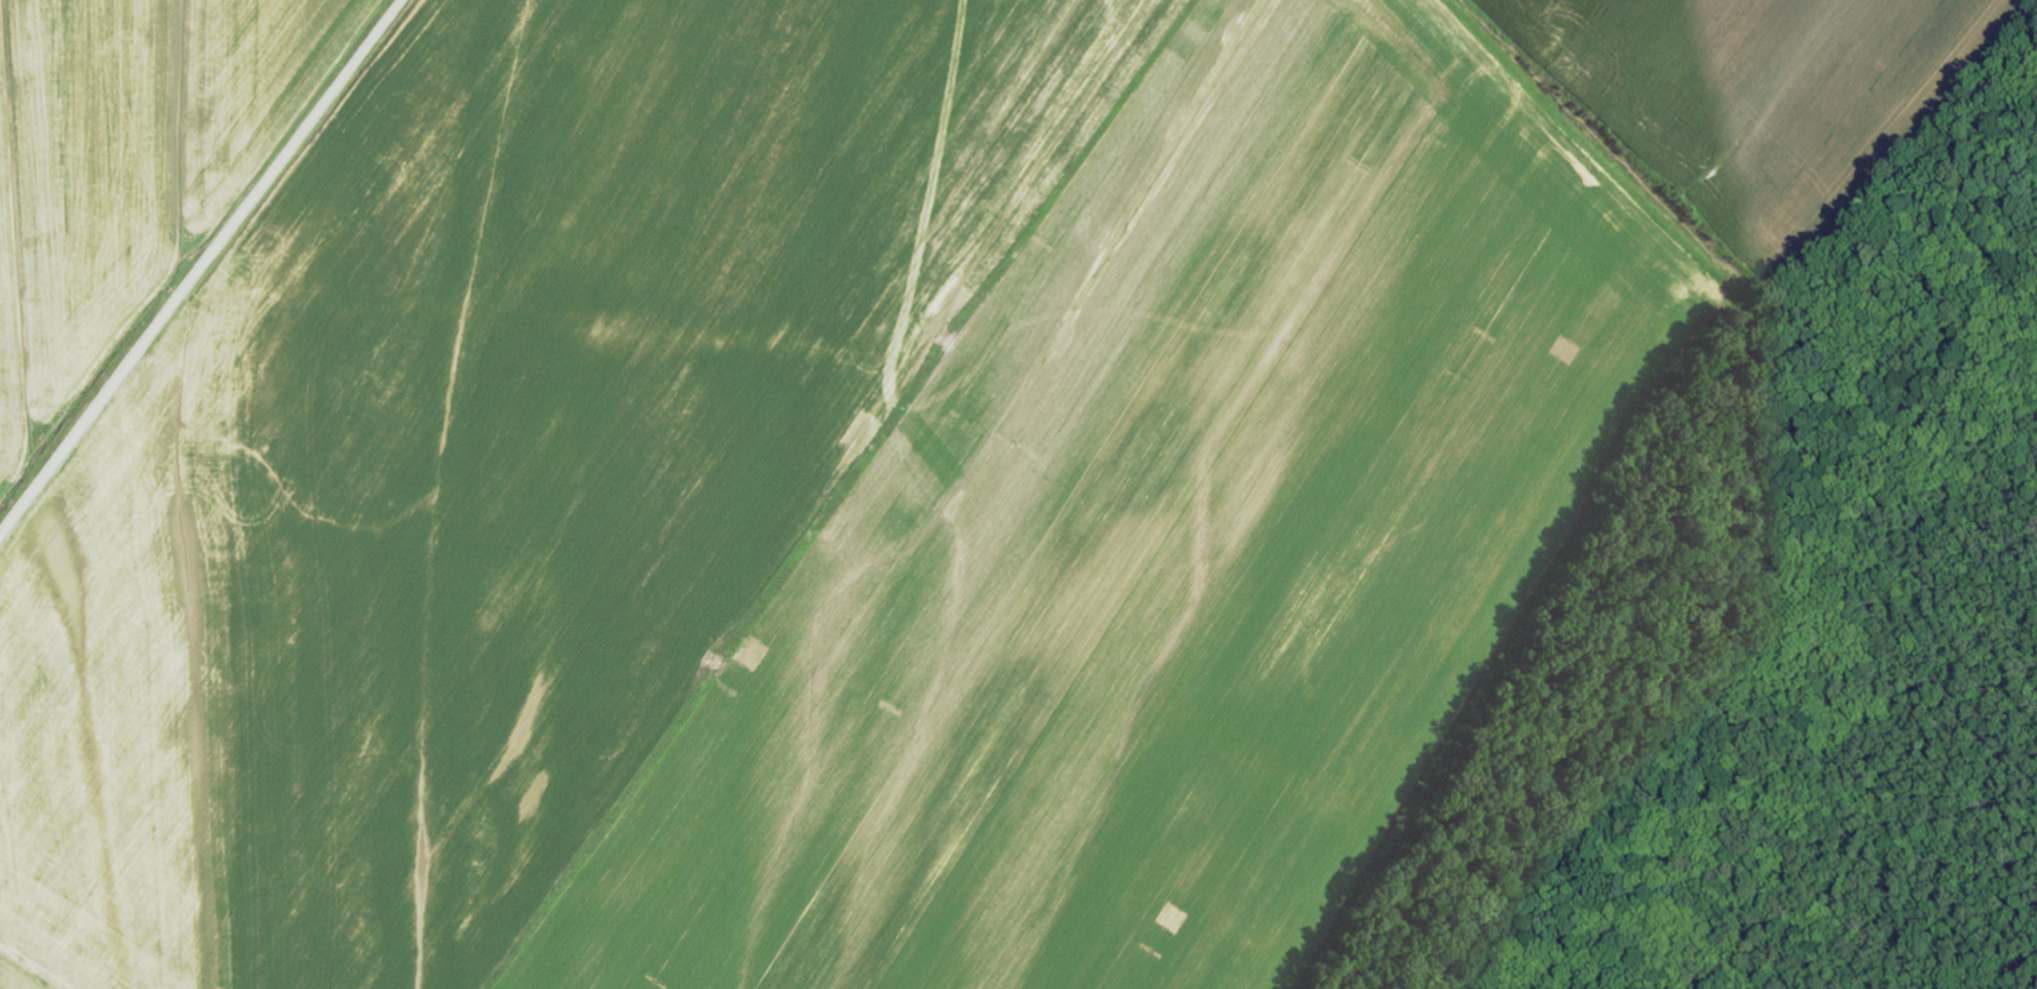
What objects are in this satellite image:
road: (201, 267)

